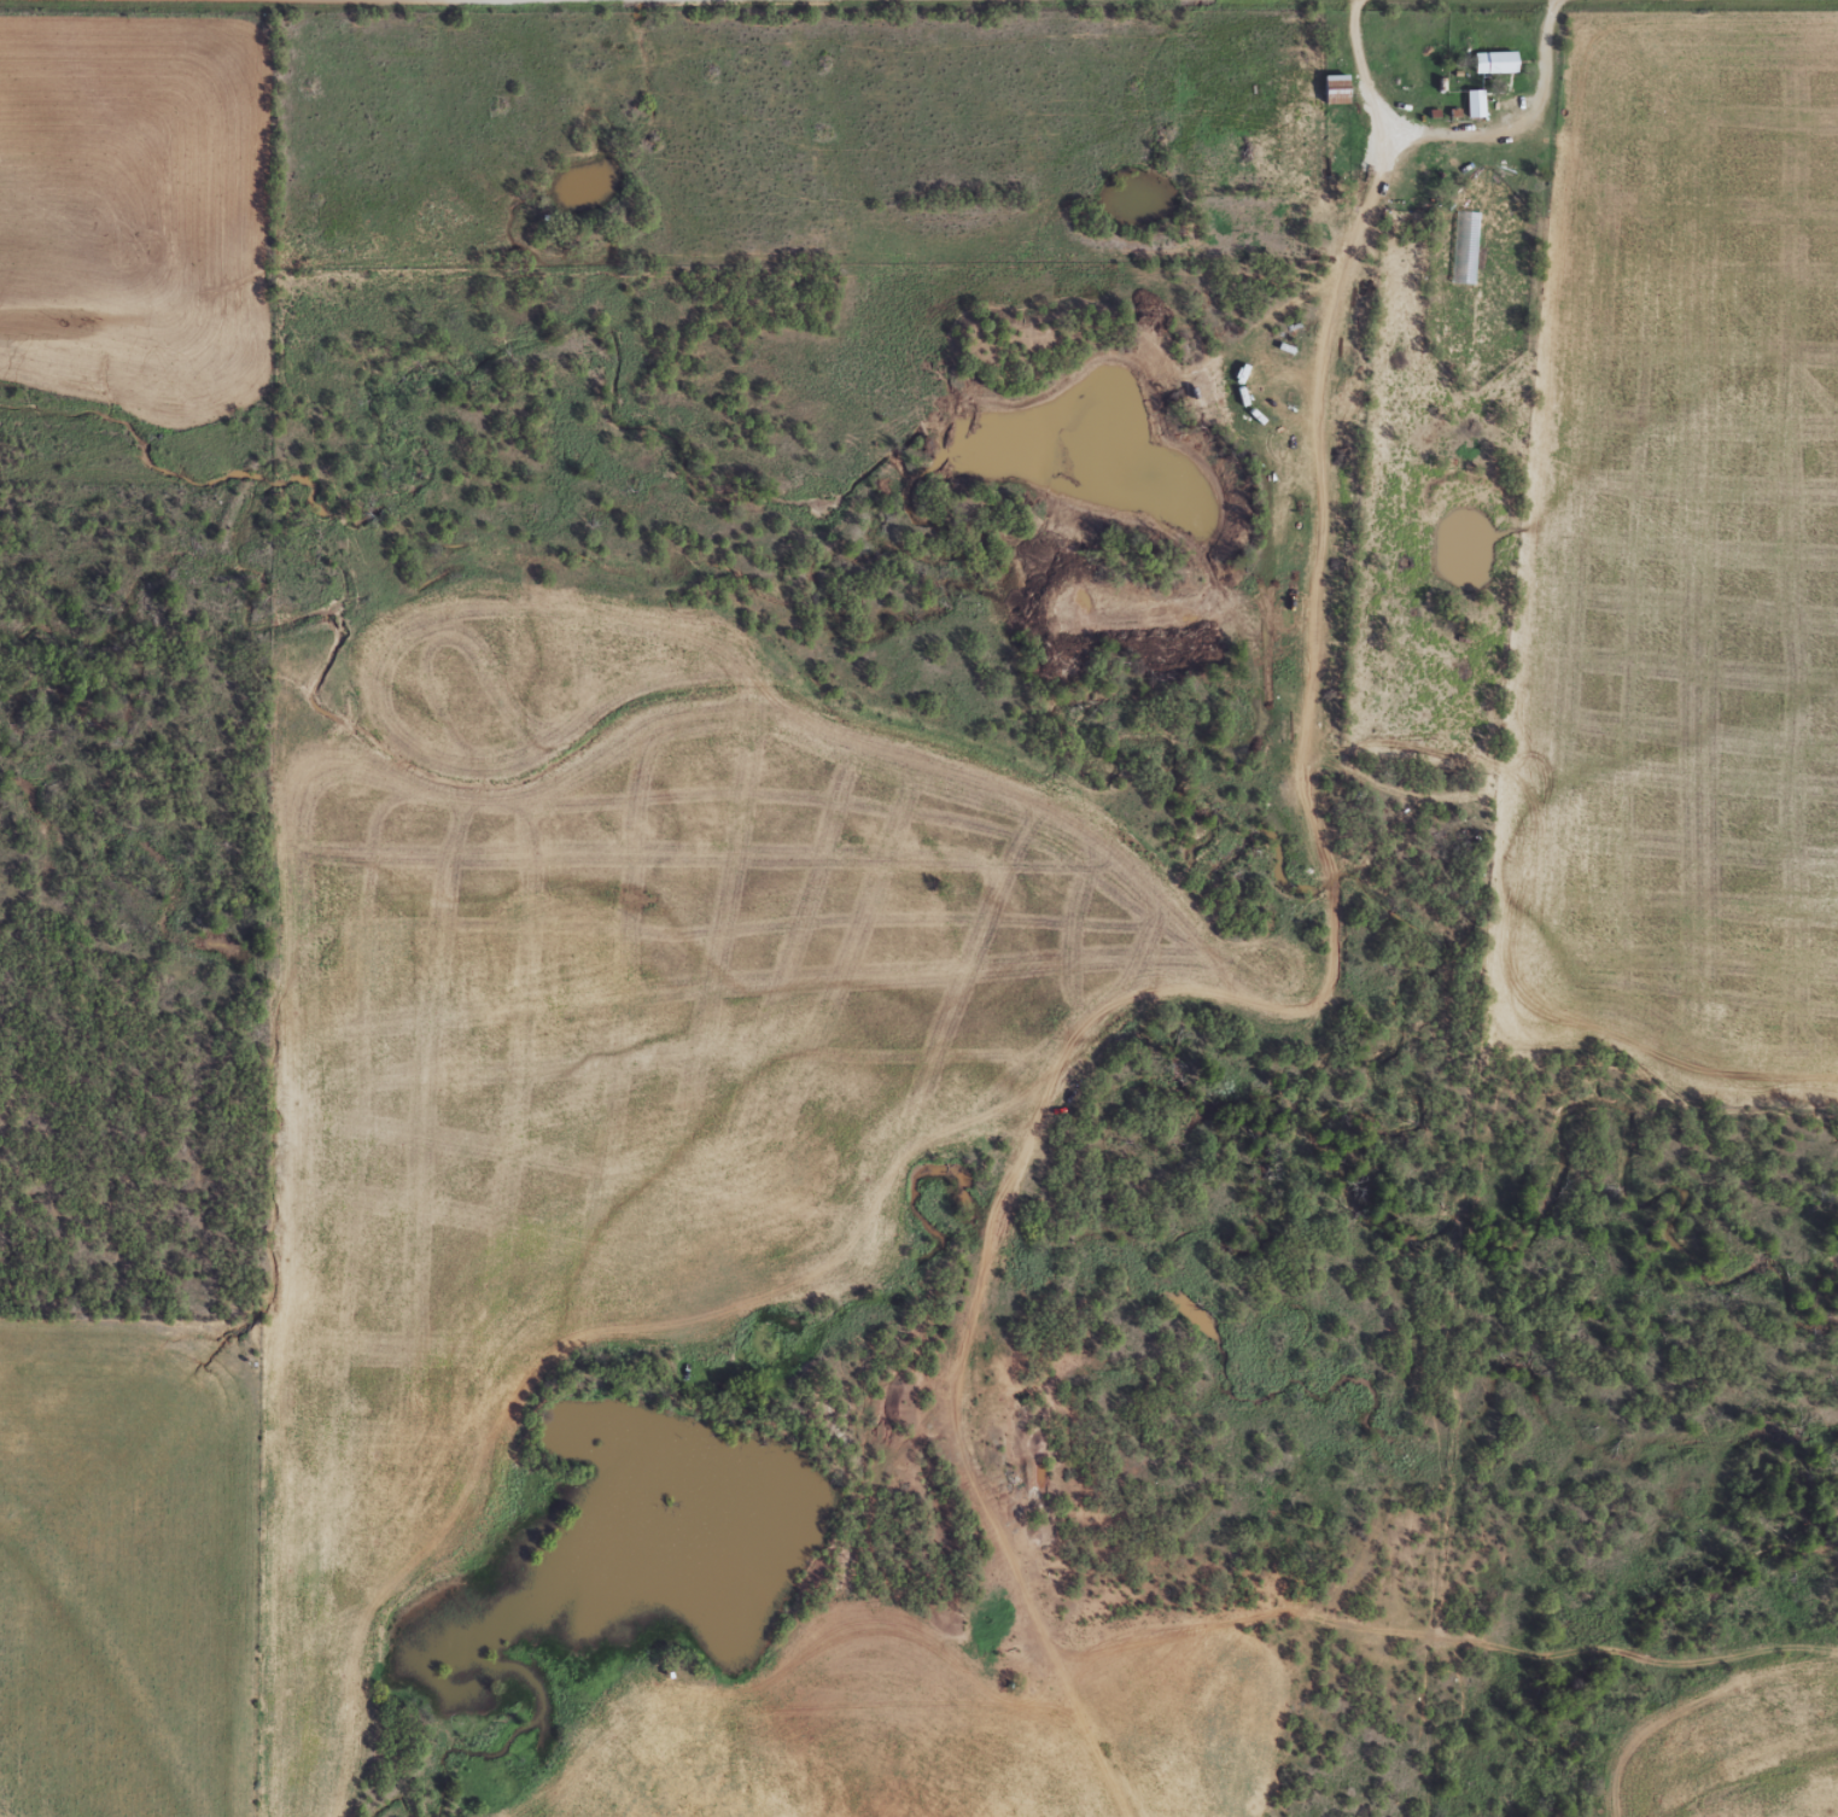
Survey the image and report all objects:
building: (1494, 63)
building: (1335, 89)
building: (1475, 104)
road: (1349, 402)
road: (976, 1266)

